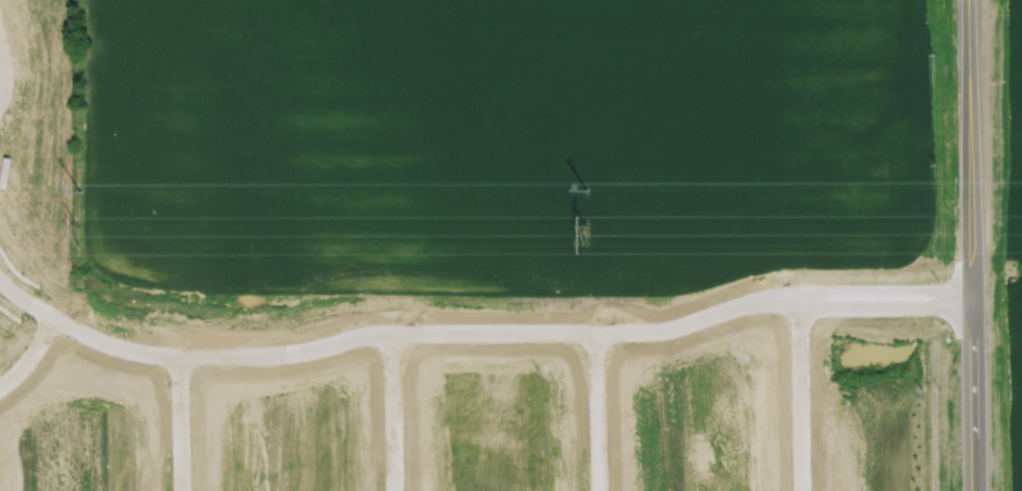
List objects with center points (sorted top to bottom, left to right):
road: (3, 69)
power tower: (78, 189)
power tower: (585, 191)
power tower: (585, 234)
power tower: (74, 235)
road: (970, 245)
road: (464, 327)
road: (43, 363)
road: (803, 394)
road: (601, 407)
road: (392, 410)
road: (180, 425)

